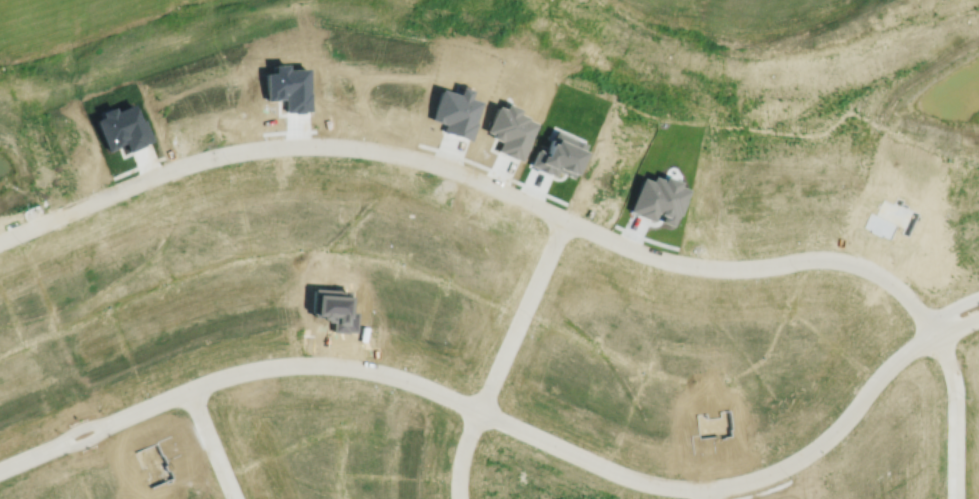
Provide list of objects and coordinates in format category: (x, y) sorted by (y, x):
road: (482, 179)
road: (953, 308)
road: (958, 326)
road: (504, 355)
road: (489, 414)
road: (956, 414)
road: (213, 444)
road: (708, 493)

